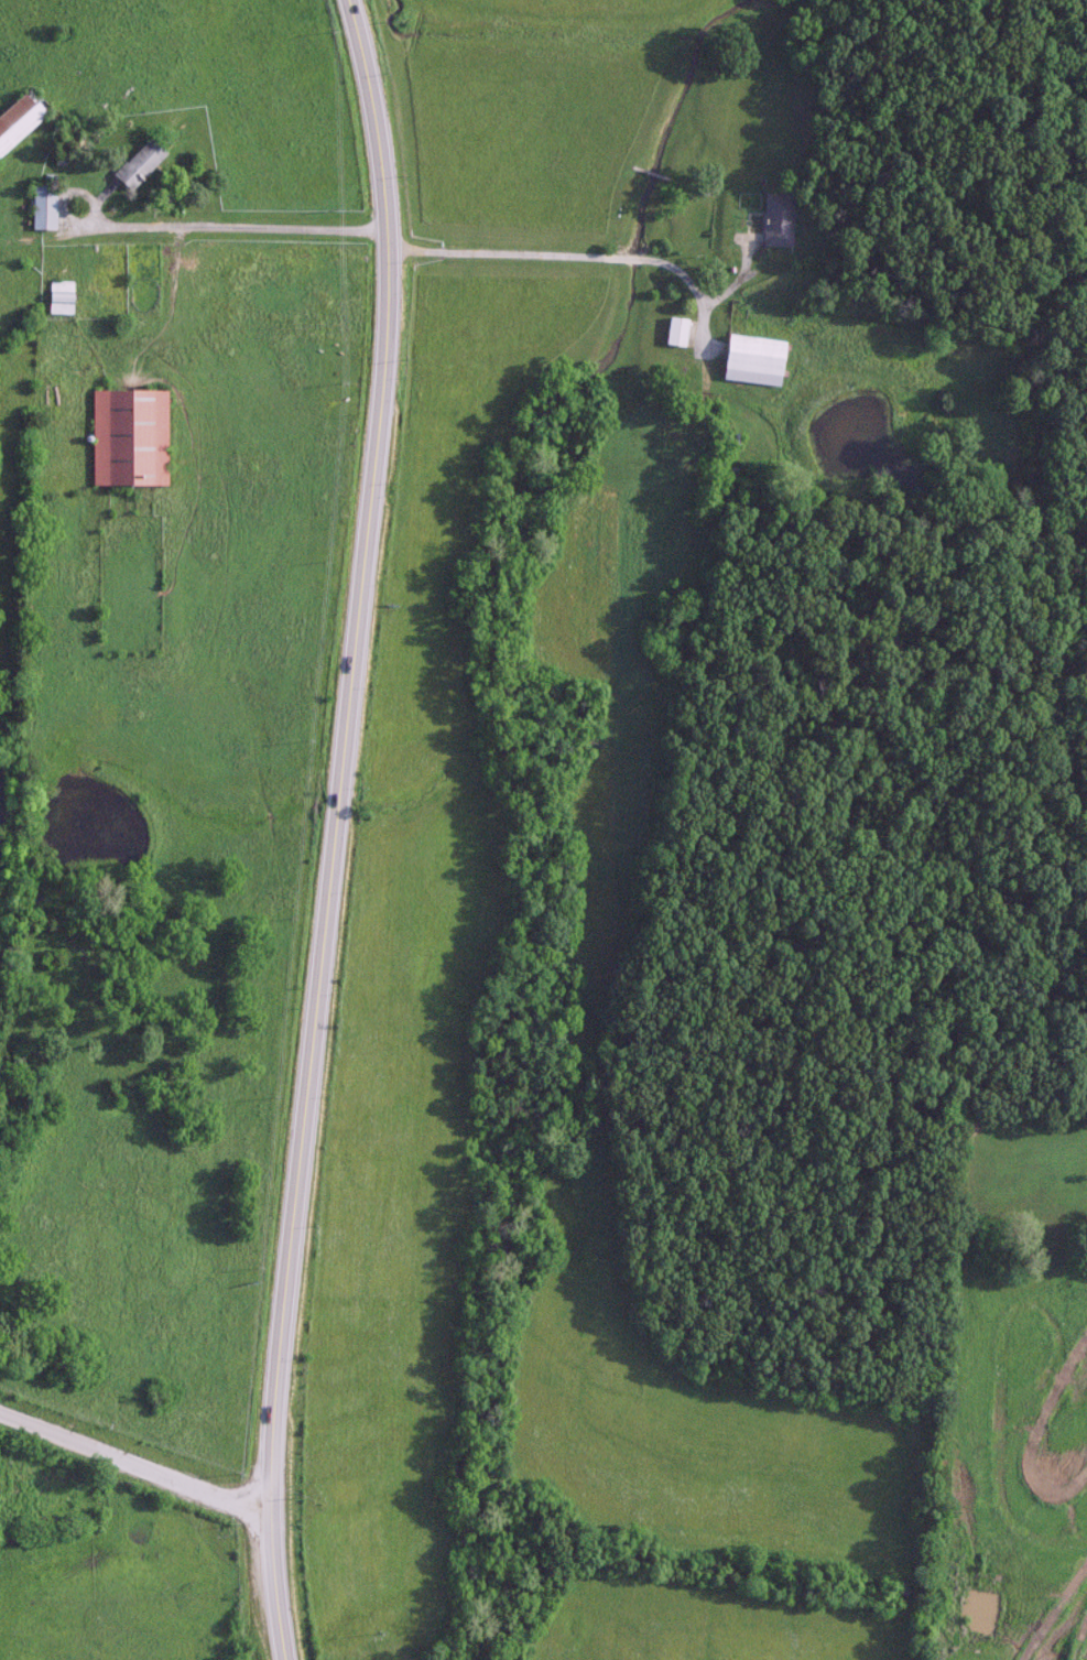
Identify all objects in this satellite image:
building: (21, 117)
building: (138, 163)
building: (42, 206)
building: (776, 218)
building: (58, 296)
building: (674, 330)
building: (751, 359)
building: (127, 437)
road: (333, 828)
road: (135, 1462)

